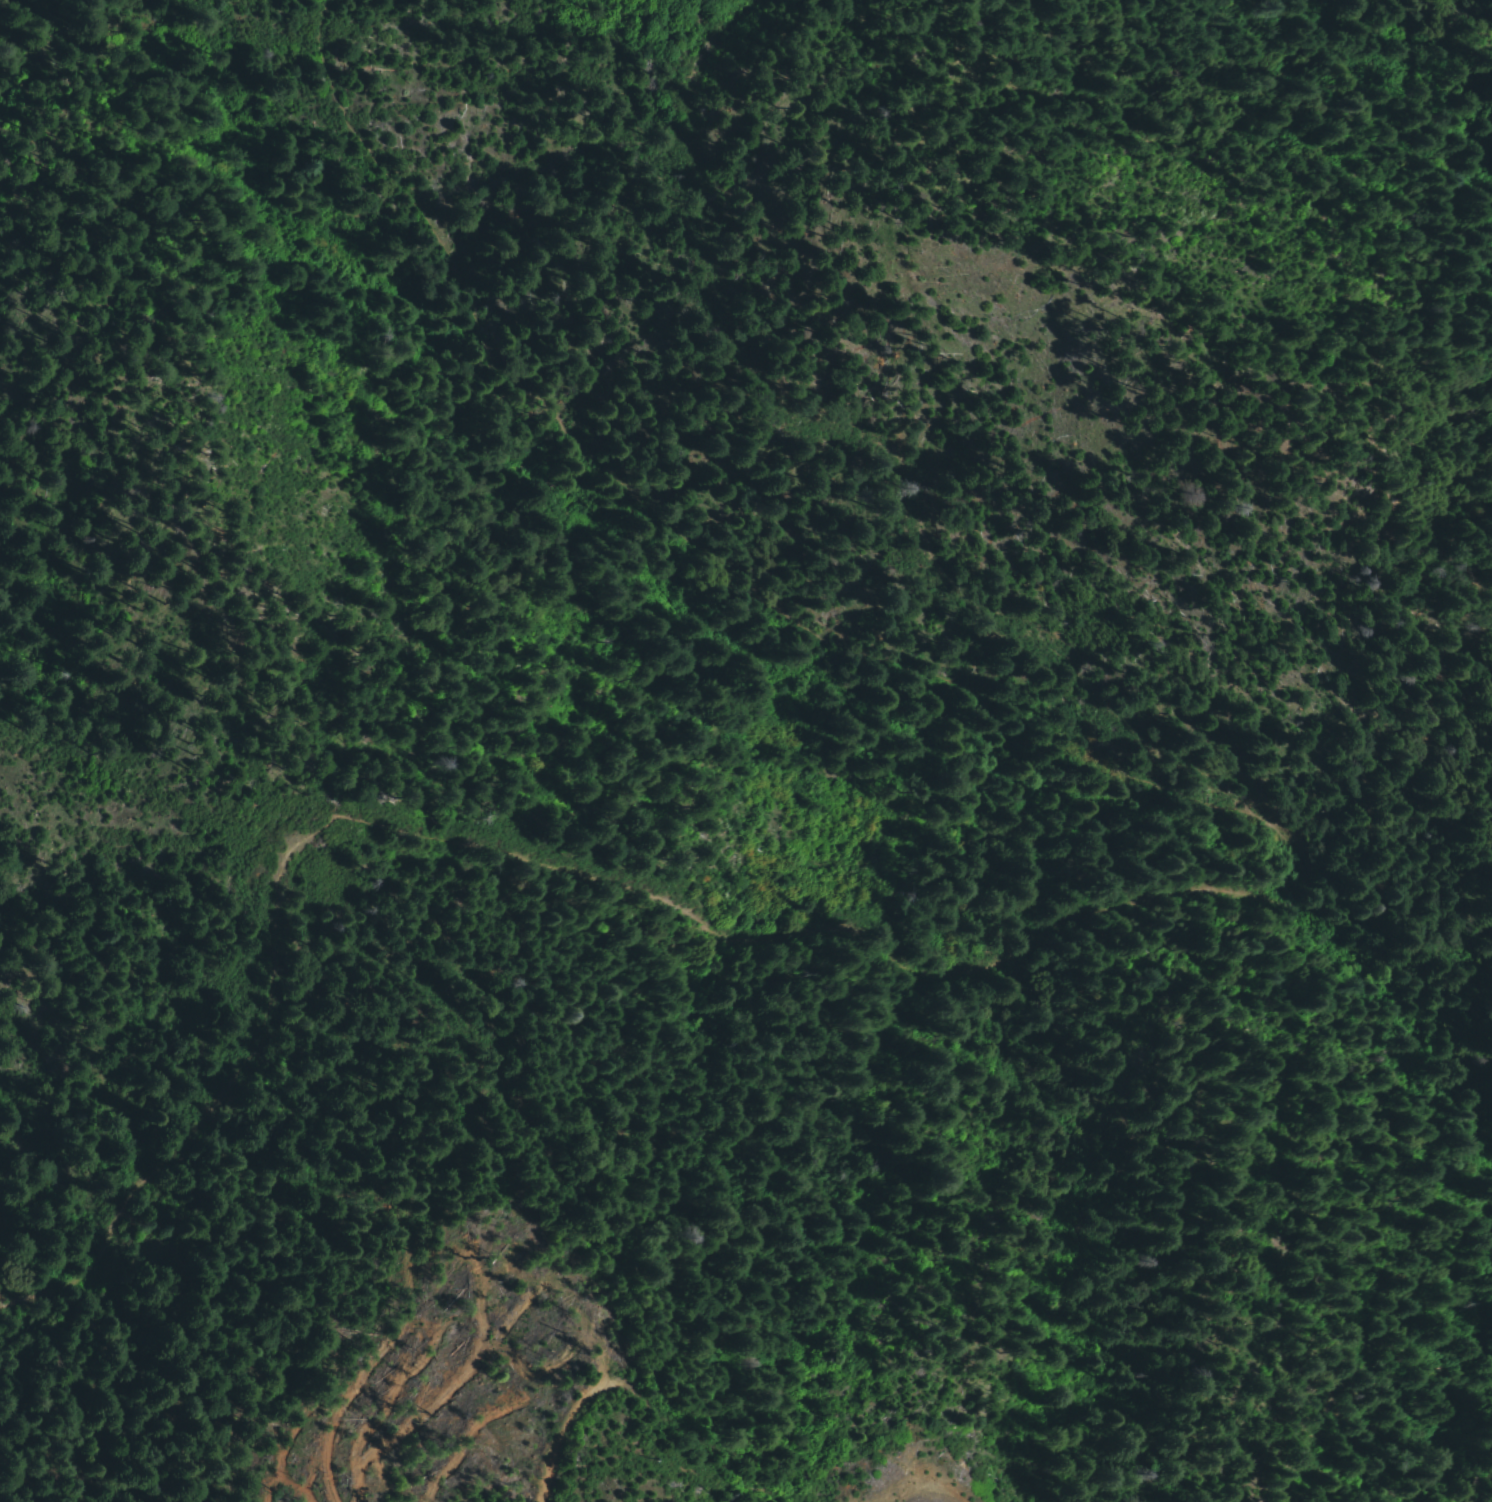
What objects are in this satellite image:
road: (1102, 14)
road: (1108, 906)

